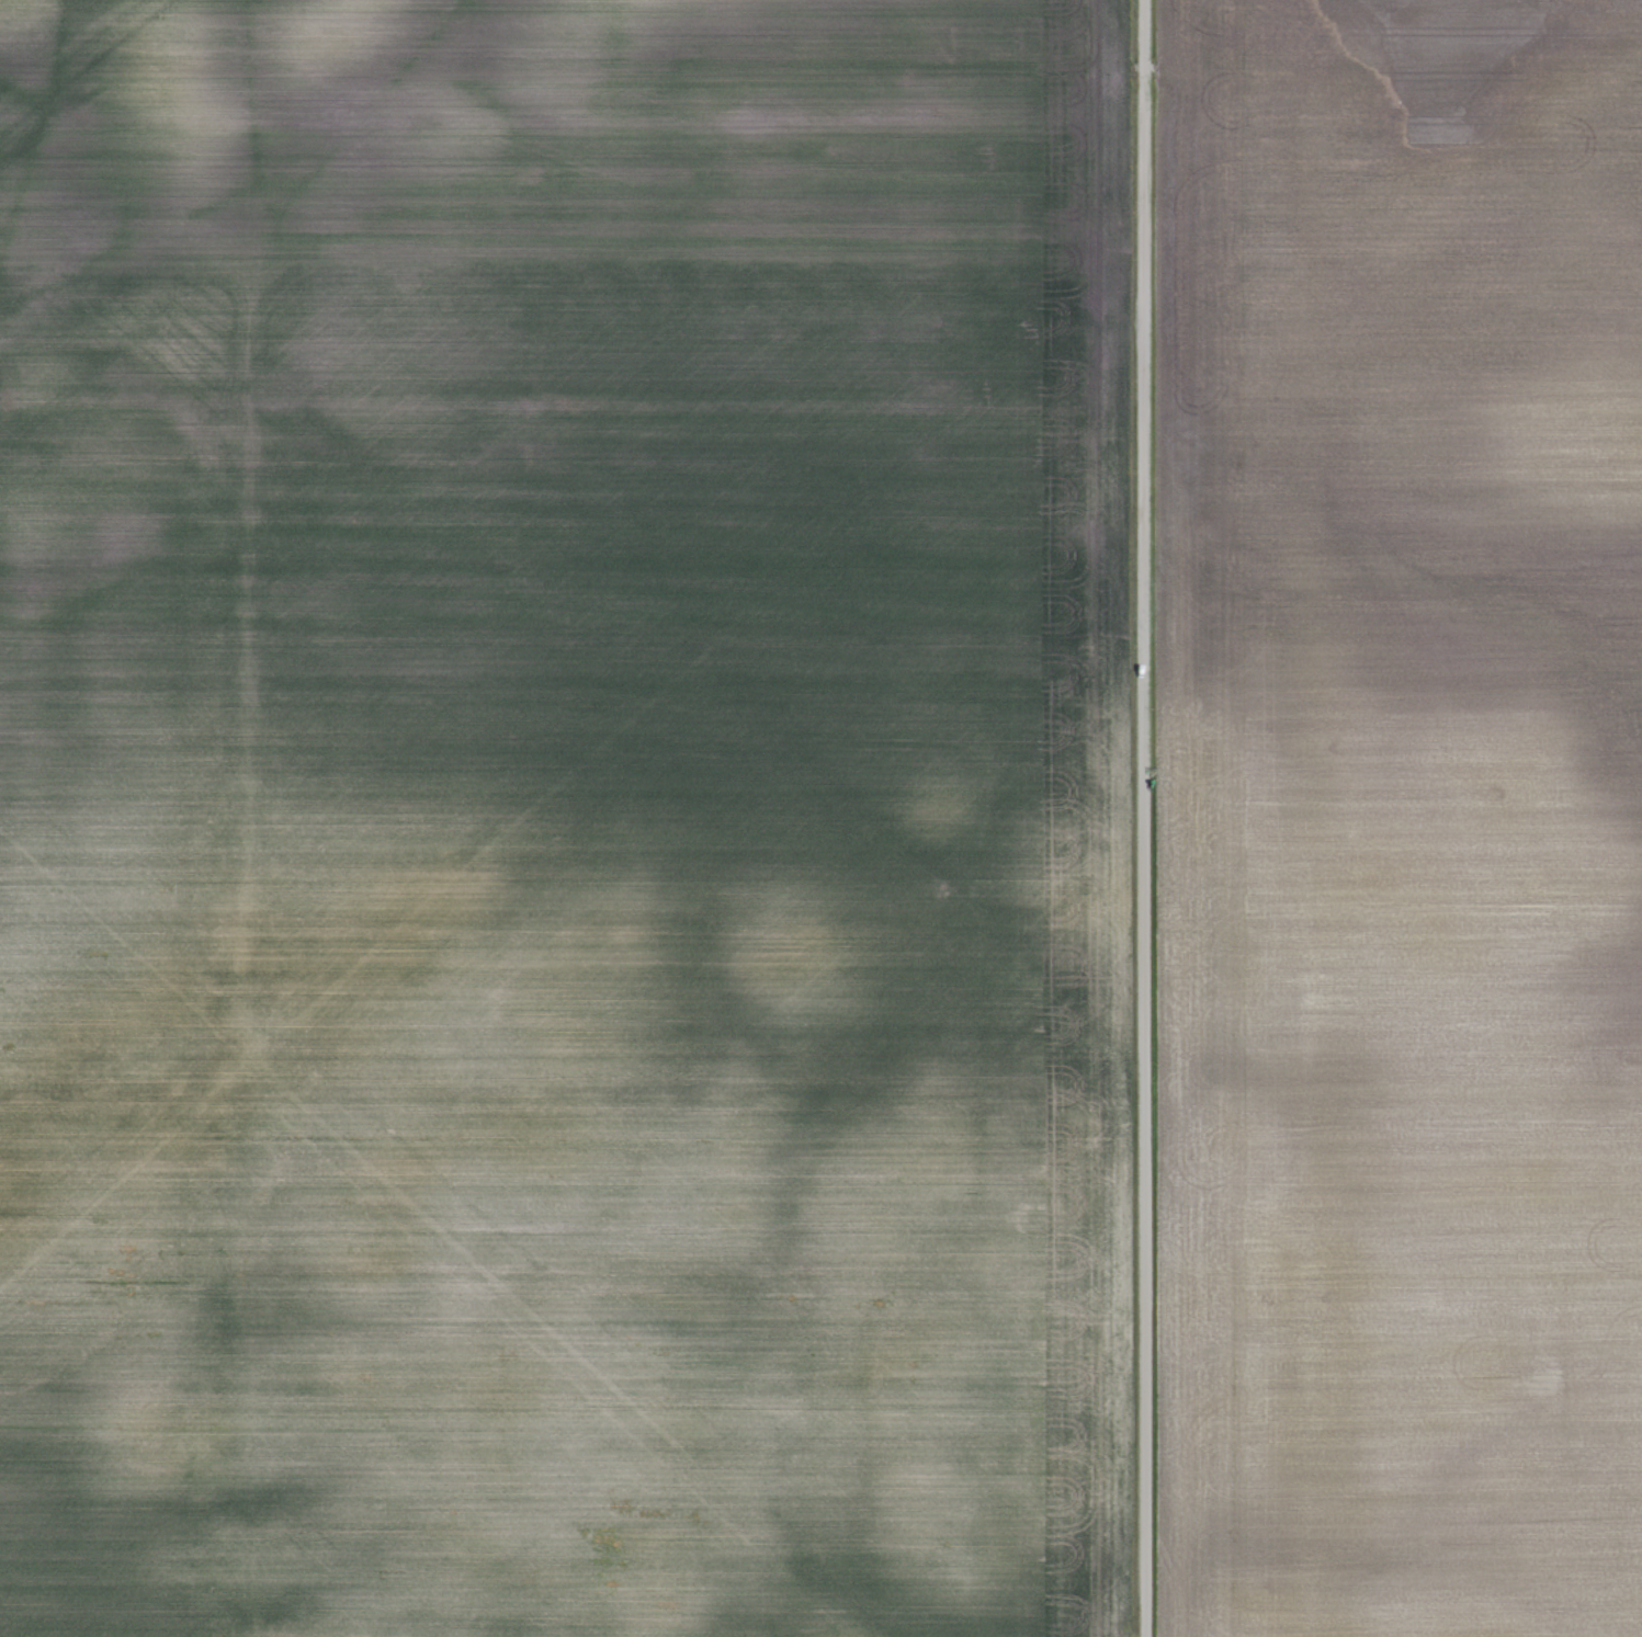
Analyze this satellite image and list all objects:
road: (1131, 818)

